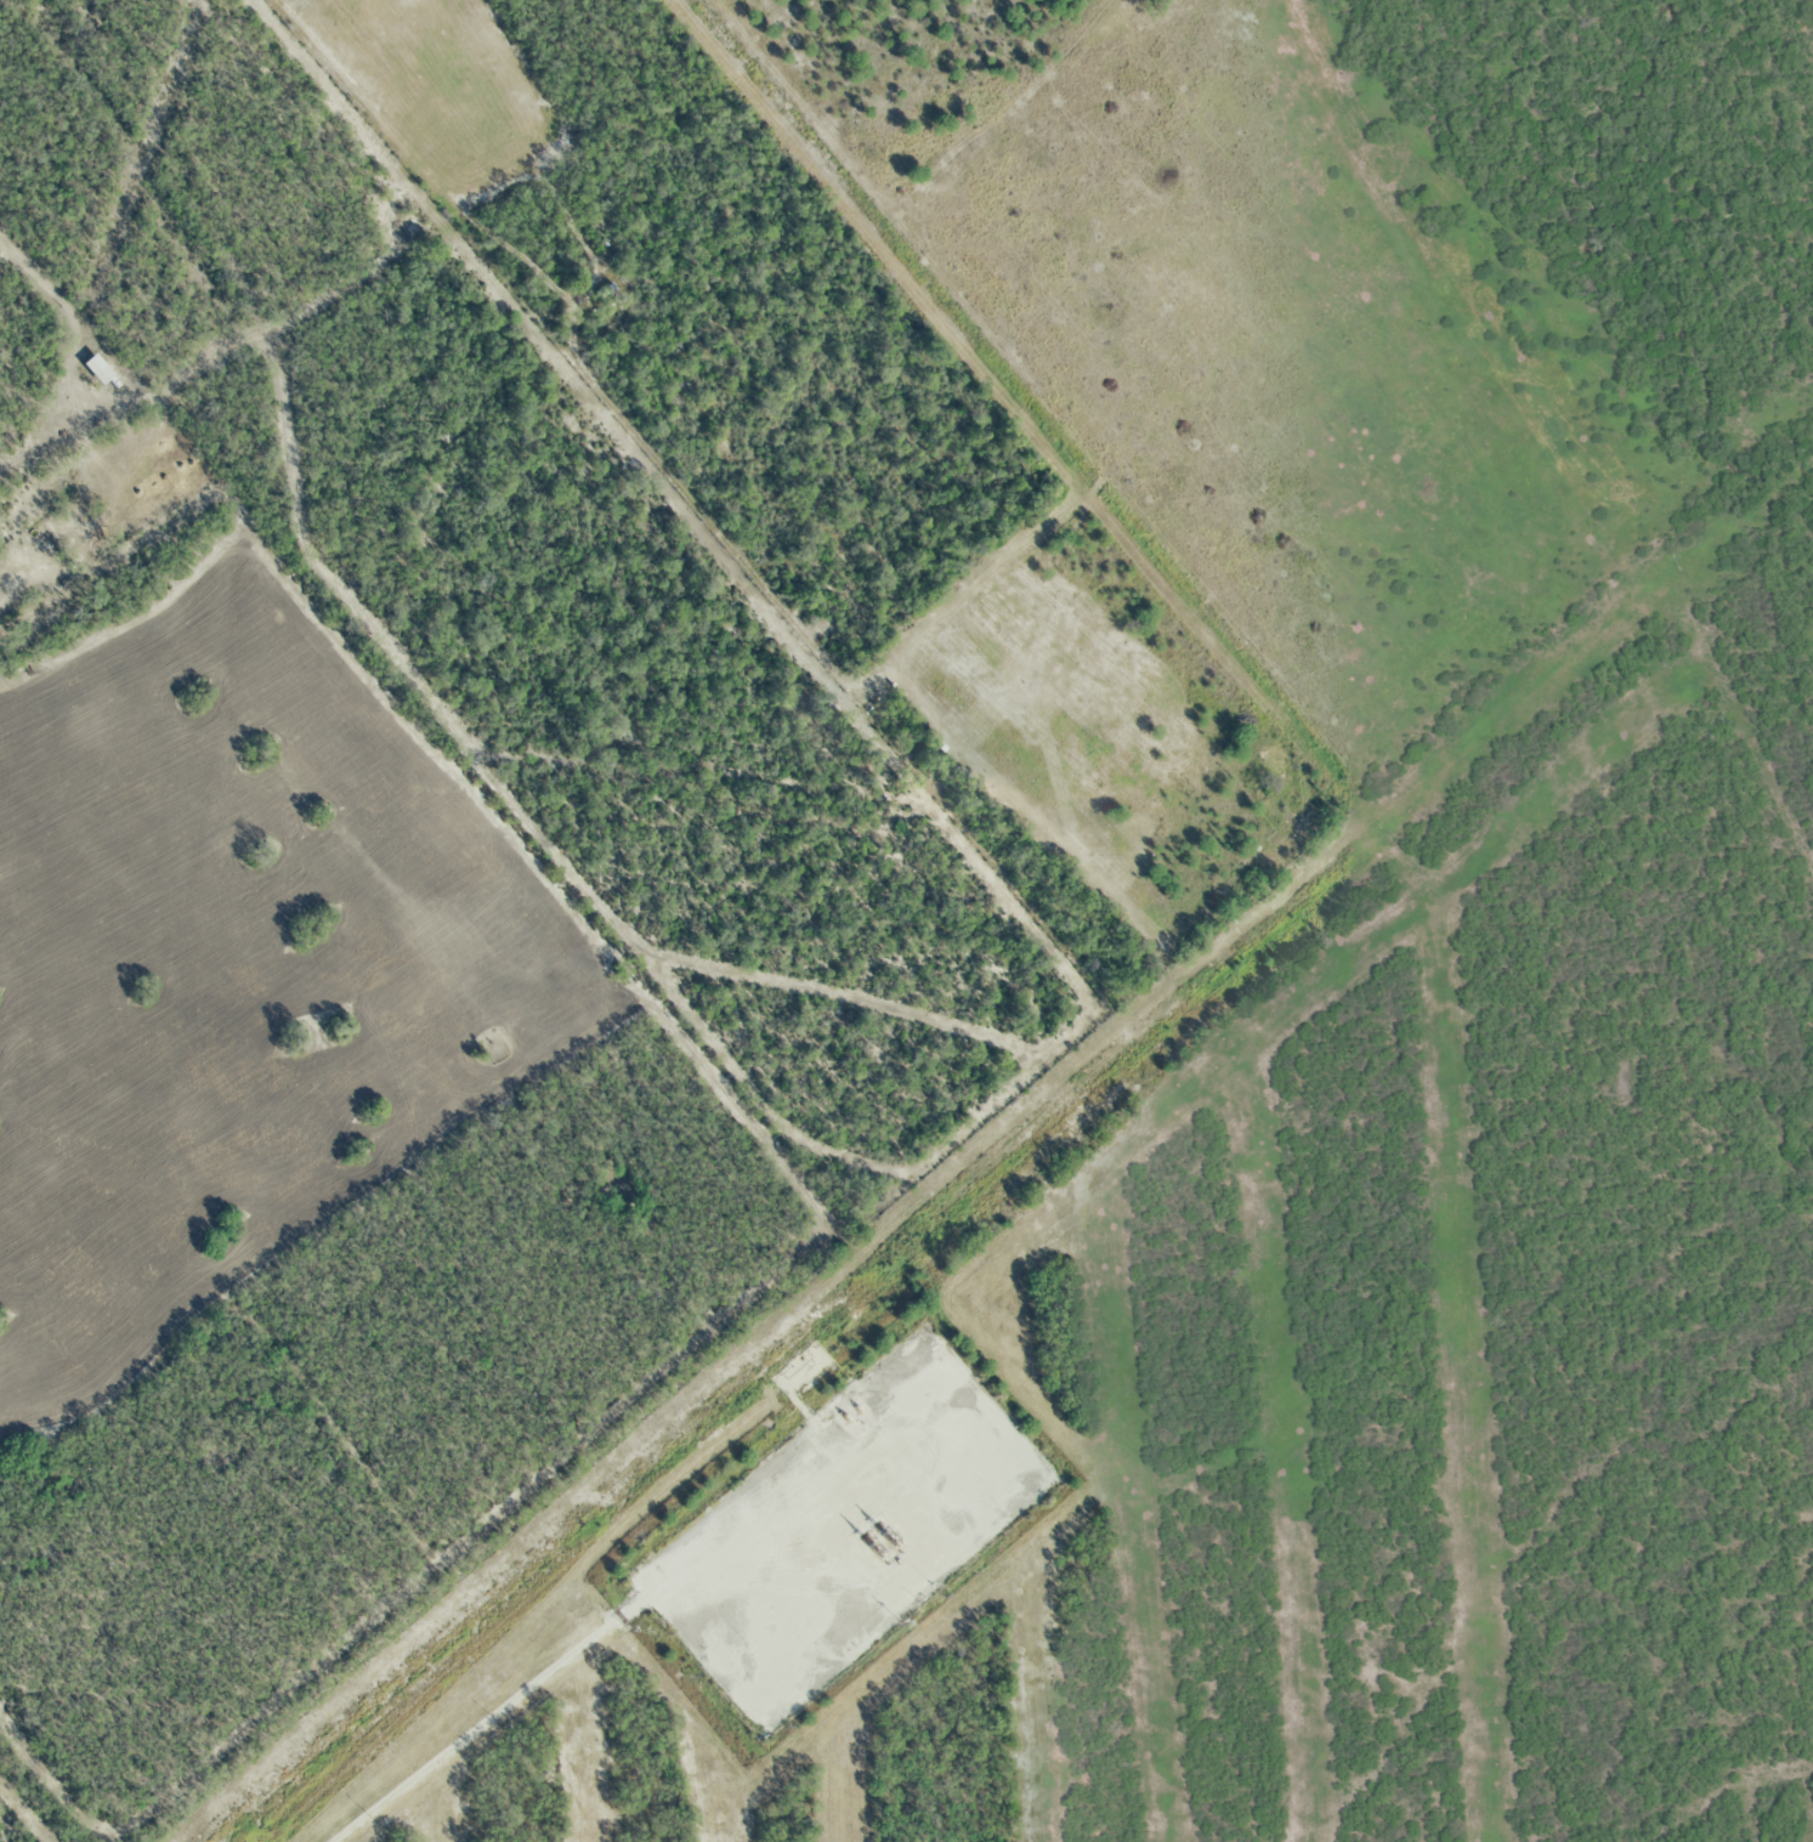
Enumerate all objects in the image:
building: (95, 369)
road: (495, 1702)

